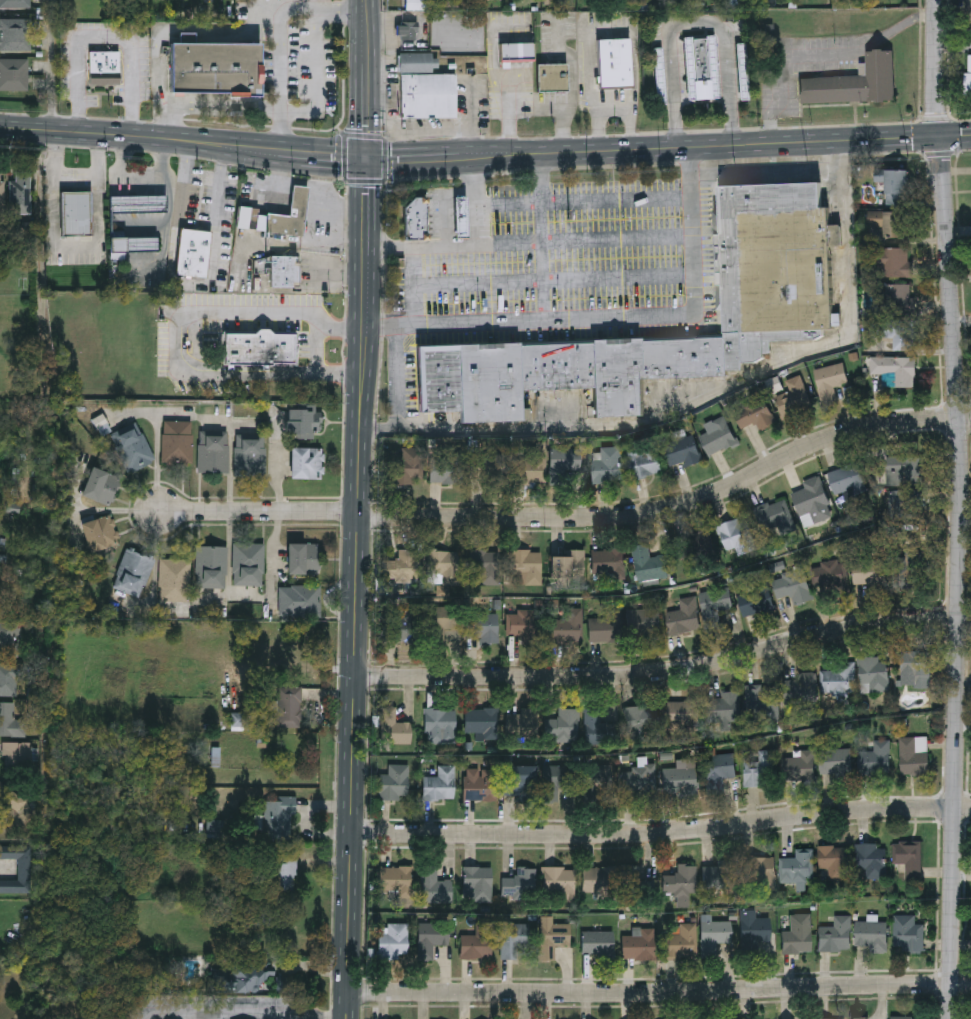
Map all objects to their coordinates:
building: (15, 3)
building: (419, 5)
building: (968, 14)
road: (698, 24)
road: (185, 29)
road: (618, 30)
building: (407, 32)
building: (15, 34)
road: (105, 36)
road: (283, 40)
building: (517, 53)
road: (821, 56)
building: (615, 64)
road: (54, 65)
building: (215, 67)
building: (702, 68)
road: (319, 75)
building: (968, 76)
building: (13, 77)
building: (552, 79)
building: (854, 84)
building: (425, 87)
road: (226, 107)
road: (935, 119)
road: (171, 122)
road: (598, 125)
road: (112, 133)
traffic signals: (938, 135)
road: (367, 137)
road: (597, 150)
road: (938, 154)
road: (346, 158)
traffic signals: (368, 160)
road: (384, 160)
road: (649, 165)
road: (317, 170)
road: (767, 173)
road: (367, 180)
road: (313, 183)
road: (184, 185)
building: (893, 185)
building: (20, 191)
building: (2, 192)
road: (543, 198)
road: (586, 199)
building: (138, 202)
road: (480, 202)
road: (219, 207)
building: (77, 212)
building: (277, 214)
building: (460, 216)
gas station: (460, 216)
building: (415, 218)
building: (894, 223)
road: (0, 235)
road: (337, 240)
building: (133, 243)
road: (576, 244)
road: (75, 248)
building: (193, 251)
road: (176, 252)
building: (772, 259)
building: (892, 262)
building: (285, 270)
road: (555, 279)
road: (546, 281)
road: (196, 283)
road: (418, 287)
building: (892, 299)
road: (565, 318)
building: (894, 333)
road: (178, 341)
building: (260, 347)
building: (894, 370)
building: (829, 381)
building: (793, 398)
road: (680, 413)
building: (753, 414)
building: (304, 421)
road: (379, 426)
building: (717, 437)
building: (178, 441)
building: (134, 448)
building: (214, 451)
building: (681, 451)
building: (250, 454)
building: (307, 462)
building: (643, 462)
building: (562, 463)
building: (606, 465)
building: (405, 467)
building: (517, 467)
building: (444, 468)
building: (902, 471)
building: (845, 480)
building: (100, 486)
building: (811, 502)
road: (673, 507)
road: (361, 509)
road: (959, 509)
road: (260, 512)
building: (776, 518)
building: (100, 533)
building: (737, 537)
building: (698, 549)
building: (302, 558)
building: (570, 563)
building: (607, 563)
building: (248, 564)
building: (647, 564)
building: (402, 565)
building: (443, 566)
building: (524, 566)
building: (211, 567)
building: (484, 567)
building: (908, 570)
building: (134, 573)
building: (827, 574)
building: (868, 574)
building: (174, 580)
building: (792, 587)
road: (253, 597)
building: (300, 600)
building: (754, 601)
building: (713, 607)
building: (682, 617)
building: (643, 621)
building: (425, 623)
building: (568, 625)
building: (528, 626)
building: (605, 627)
building: (10, 639)
building: (916, 668)
road: (667, 671)
building: (872, 675)
building: (9, 679)
building: (838, 680)
building: (799, 689)
building: (762, 700)
building: (290, 705)
building: (723, 711)
building: (683, 713)
building: (238, 718)
building: (10, 720)
building: (493, 721)
building: (520, 722)
building: (641, 722)
building: (595, 724)
building: (439, 725)
building: (563, 726)
building: (392, 727)
building: (18, 755)
building: (913, 755)
building: (874, 759)
building: (834, 762)
building: (798, 766)
building: (759, 770)
building: (718, 771)
building: (520, 775)
building: (679, 779)
building: (555, 780)
building: (641, 781)
building: (393, 783)
building: (439, 784)
building: (478, 784)
building: (598, 786)
building: (12, 799)
building: (277, 817)
road: (663, 832)
building: (871, 860)
building: (833, 861)
building: (907, 861)
building: (24, 870)
building: (795, 870)
road: (5, 871)
building: (759, 872)
building: (286, 873)
building: (717, 875)
building: (598, 879)
building: (394, 880)
building: (559, 882)
building: (637, 882)
building: (680, 882)
building: (519, 883)
building: (476, 884)
building: (434, 886)
building: (753, 931)
building: (835, 935)
building: (907, 935)
building: (551, 936)
building: (797, 936)
building: (870, 936)
building: (713, 937)
building: (430, 938)
building: (512, 938)
building: (391, 940)
building: (477, 941)
building: (597, 942)
building: (681, 942)
building: (638, 943)
building: (243, 978)
road: (661, 990)
road: (245, 1012)
building: (859, 1018)
building: (904, 1018)

